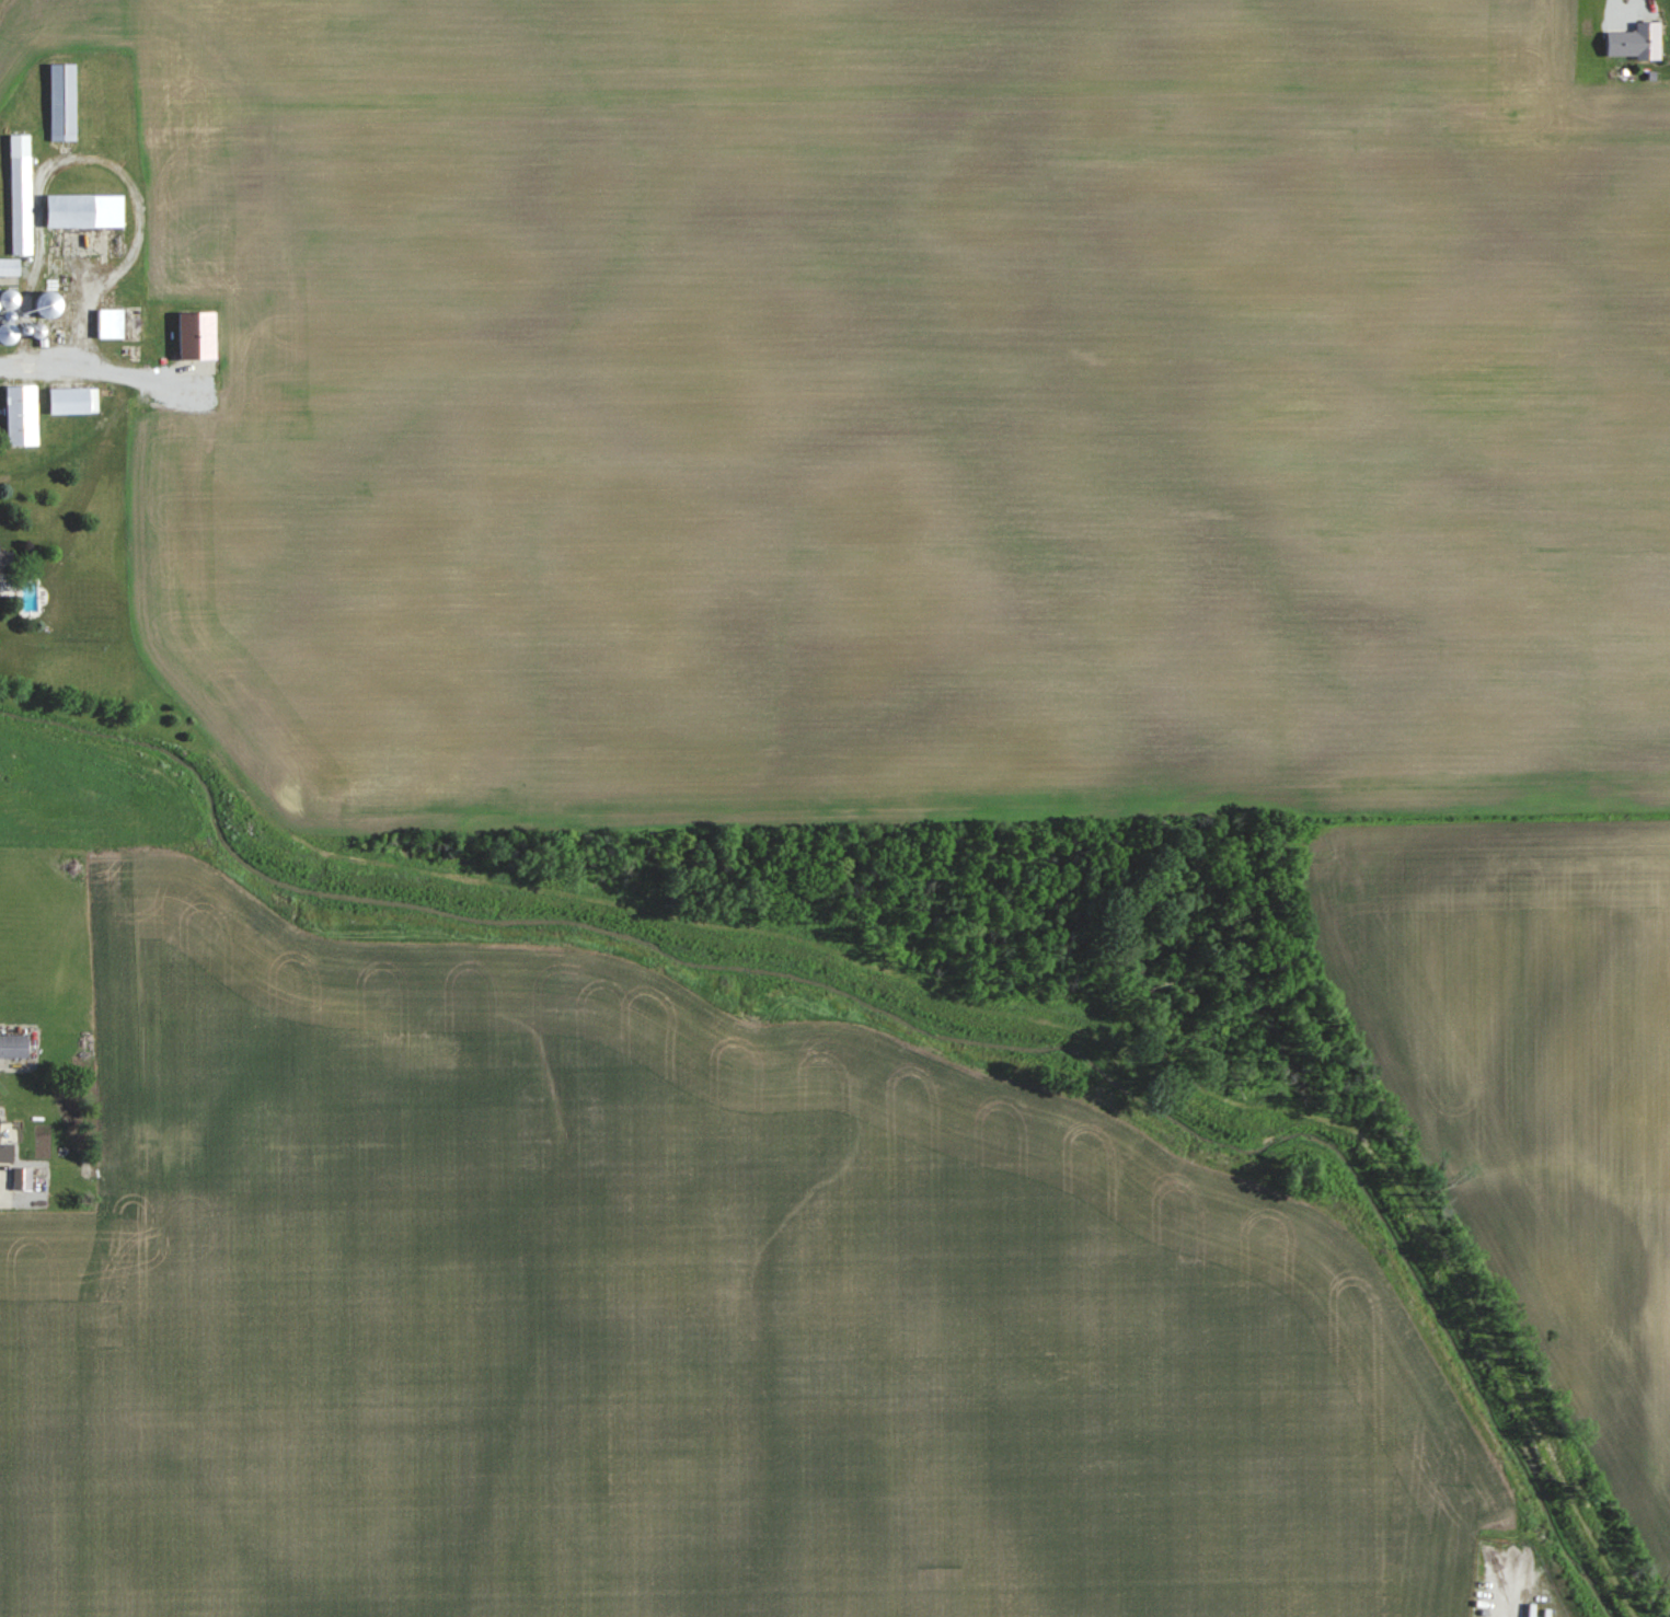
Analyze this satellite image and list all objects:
building: (1648, 41)
building: (62, 102)
building: (20, 194)
building: (84, 211)
building: (9, 266)
building: (48, 307)
building: (110, 323)
building: (7, 334)
building: (21, 414)
building: (5, 561)
building: (5, 1151)
building: (22, 1177)

